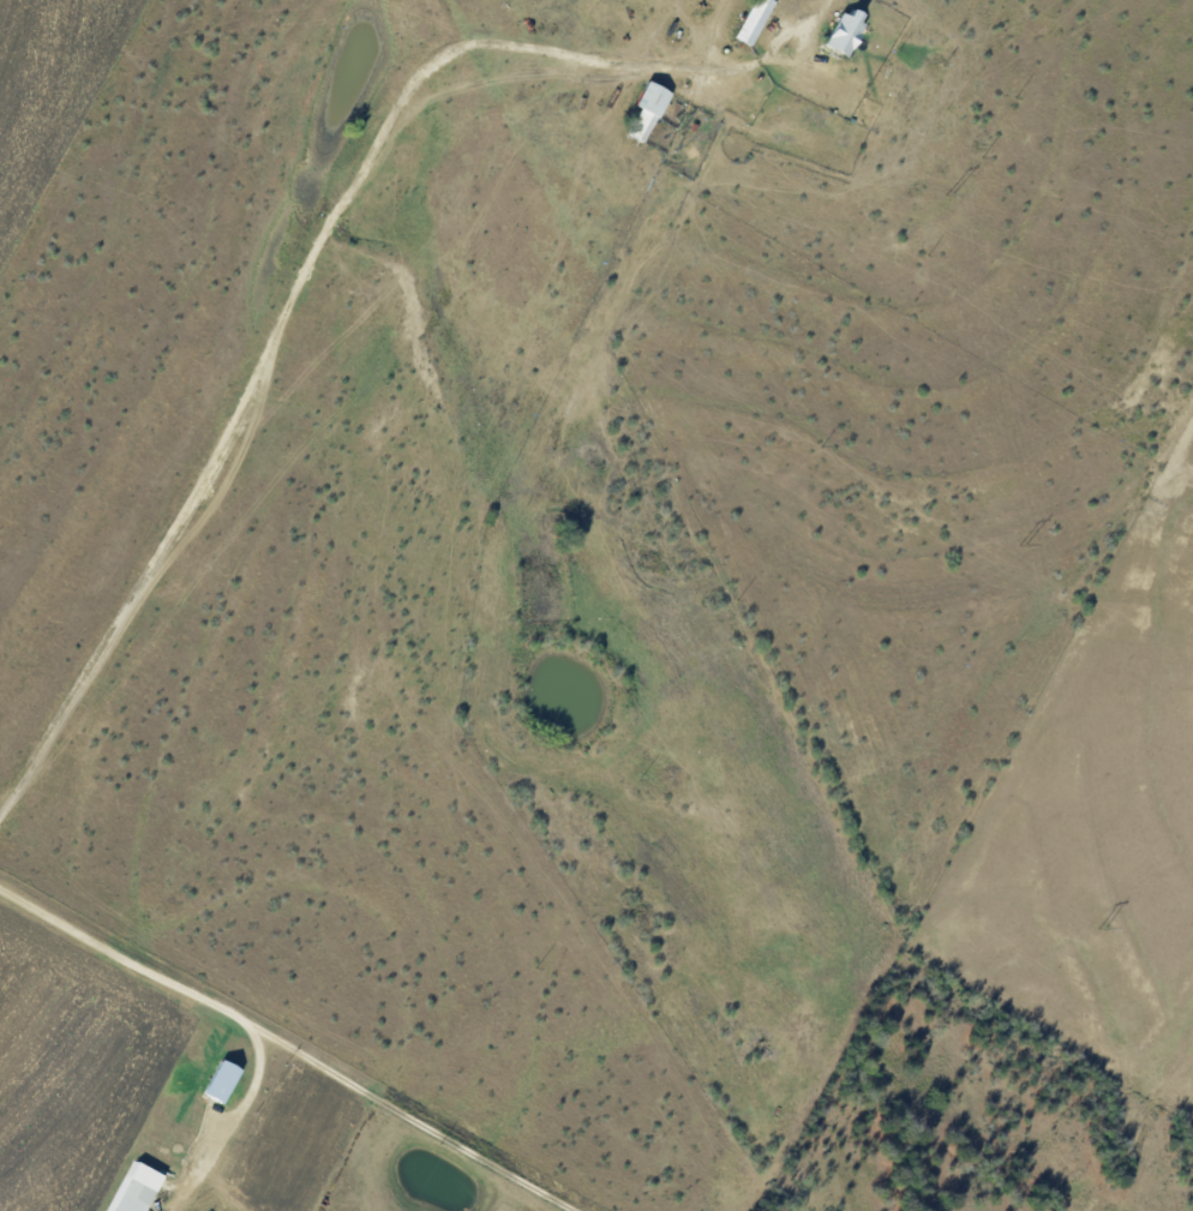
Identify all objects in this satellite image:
building: (751, 20)
building: (839, 31)
building: (647, 106)
power tower: (952, 194)
road: (296, 289)
power tower: (1025, 545)
crop: (1107, 828)
power tower: (1103, 928)
road: (289, 1045)
building: (226, 1080)
road: (247, 1101)
building: (137, 1188)

